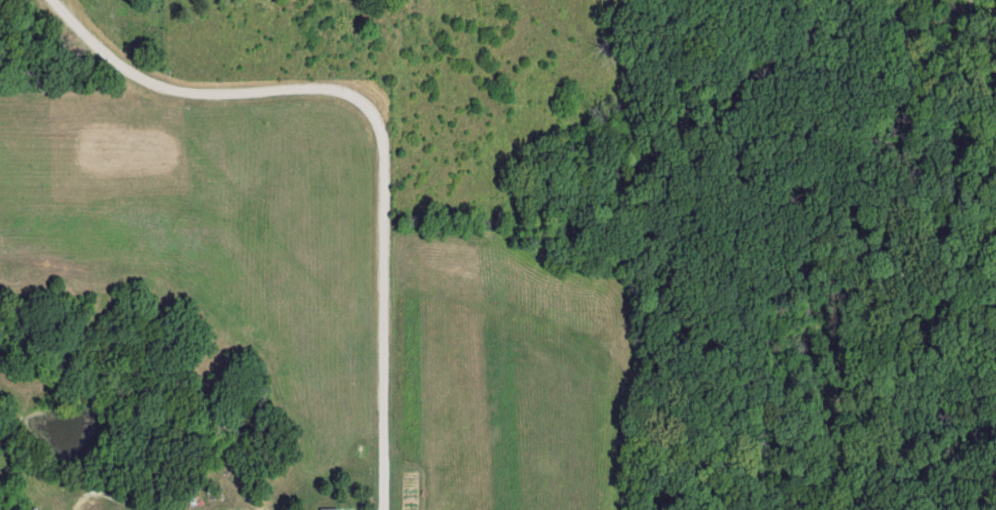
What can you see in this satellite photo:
road: (379, 131)
building: (328, 509)

